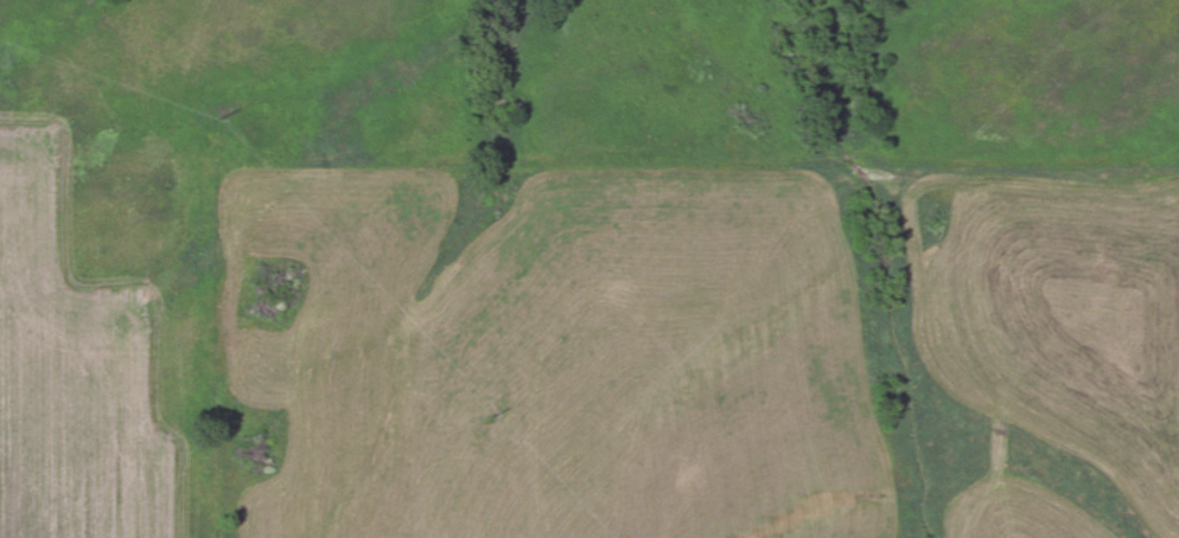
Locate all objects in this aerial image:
crop: (60, 388)

